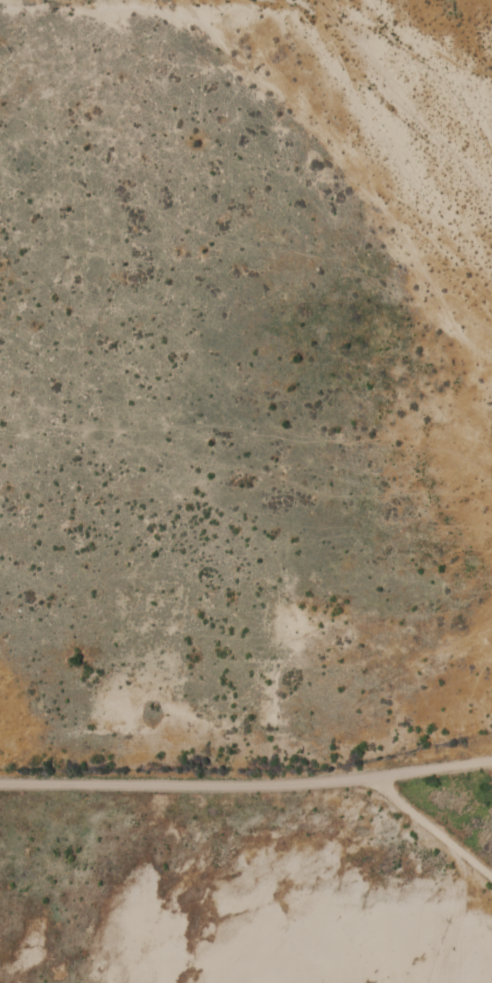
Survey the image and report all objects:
road: (246, 778)
road: (436, 806)

